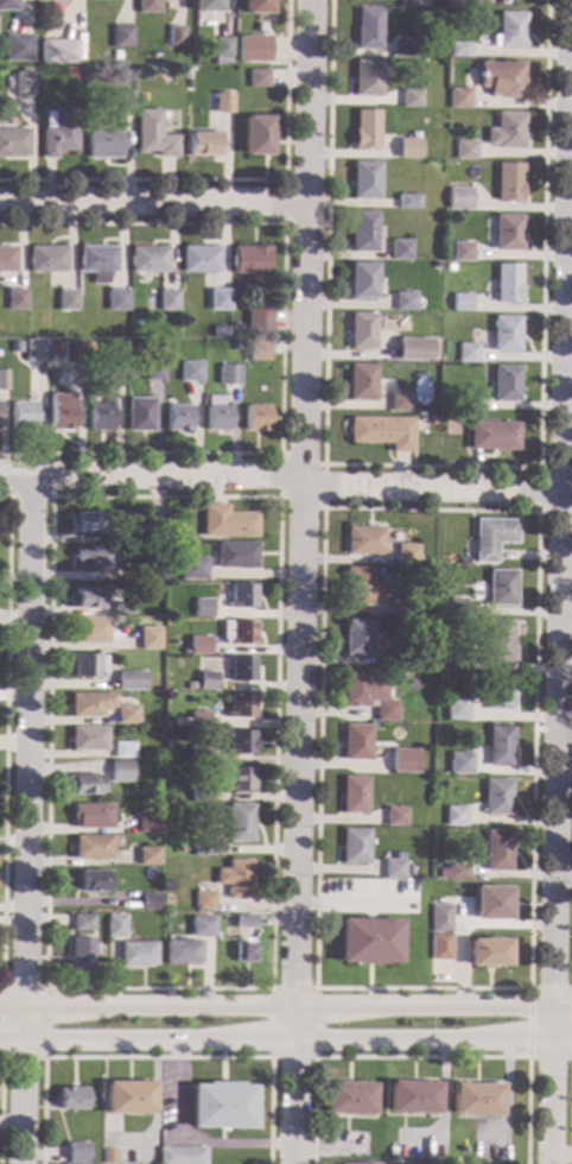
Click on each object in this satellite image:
building: (33, 0)
building: (417, 2)
building: (7, 5)
building: (146, 6)
building: (206, 6)
building: (256, 6)
building: (367, 29)
building: (509, 31)
building: (122, 37)
building: (176, 37)
building: (18, 48)
building: (222, 48)
building: (254, 48)
building: (402, 48)
building: (459, 50)
building: (61, 51)
building: (116, 56)
building: (91, 70)
building: (258, 78)
building: (367, 78)
building: (501, 80)
building: (23, 84)
building: (141, 97)
building: (411, 99)
building: (458, 99)
building: (126, 101)
building: (223, 103)
building: (98, 126)
building: (366, 129)
building: (59, 132)
building: (507, 132)
building: (154, 135)
building: (256, 135)
building: (13, 143)
building: (104, 145)
building: (203, 145)
building: (408, 148)
building: (464, 150)
building: (366, 179)
road: (231, 181)
building: (508, 183)
building: (459, 198)
road: (153, 202)
building: (407, 202)
road: (284, 223)
building: (364, 232)
building: (508, 233)
building: (399, 249)
building: (462, 252)
building: (7, 259)
building: (46, 259)
building: (148, 259)
building: (199, 259)
building: (249, 260)
building: (97, 262)
building: (450, 267)
building: (363, 280)
building: (507, 283)
building: (220, 291)
building: (17, 299)
building: (116, 299)
building: (68, 301)
building: (169, 301)
building: (403, 302)
building: (460, 303)
building: (259, 318)
building: (218, 330)
building: (236, 330)
building: (362, 331)
building: (506, 334)
road: (281, 336)
building: (235, 346)
building: (15, 347)
building: (52, 348)
building: (258, 349)
building: (413, 349)
building: (34, 350)
building: (74, 352)
building: (116, 353)
building: (466, 353)
building: (153, 371)
building: (190, 372)
building: (228, 374)
building: (2, 380)
building: (362, 382)
building: (504, 384)
building: (399, 403)
building: (466, 404)
building: (61, 411)
building: (216, 413)
building: (139, 415)
building: (23, 416)
building: (101, 417)
building: (178, 418)
building: (256, 418)
building: (432, 418)
building: (382, 432)
building: (492, 436)
road: (323, 464)
road: (432, 466)
road: (538, 473)
road: (281, 476)
road: (8, 496)
road: (278, 496)
road: (322, 511)
building: (87, 523)
building: (228, 523)
building: (154, 534)
building: (490, 538)
building: (109, 539)
building: (363, 540)
building: (235, 555)
building: (407, 555)
building: (93, 558)
building: (192, 568)
building: (152, 571)
road: (300, 581)
road: (560, 581)
building: (362, 587)
building: (502, 588)
building: (242, 596)
building: (85, 599)
building: (443, 602)
building: (398, 605)
building: (123, 607)
building: (202, 608)
building: (456, 608)
building: (90, 631)
building: (240, 633)
building: (148, 638)
building: (357, 638)
building: (501, 643)
building: (198, 646)
building: (400, 659)
building: (460, 660)
building: (89, 665)
building: (241, 669)
building: (129, 681)
building: (206, 682)
building: (500, 692)
building: (368, 695)
building: (89, 704)
building: (241, 706)
building: (457, 707)
building: (166, 709)
building: (466, 711)
building: (126, 714)
building: (199, 720)
building: (167, 726)
road: (553, 726)
building: (88, 739)
road: (5, 740)
building: (240, 742)
building: (356, 742)
road: (565, 745)
building: (501, 746)
building: (123, 749)
building: (201, 755)
building: (402, 759)
building: (462, 763)
building: (388, 764)
building: (120, 771)
building: (240, 778)
building: (84, 785)
building: (201, 792)
building: (354, 795)
building: (498, 797)
building: (91, 816)
building: (395, 816)
building: (456, 816)
road: (25, 821)
building: (147, 822)
building: (240, 822)
building: (355, 847)
building: (91, 848)
building: (203, 849)
building: (498, 852)
building: (148, 856)
building: (399, 858)
building: (393, 869)
building: (458, 872)
road: (565, 878)
building: (236, 879)
building: (93, 881)
building: (412, 885)
building: (204, 900)
building: (148, 902)
road: (354, 904)
building: (492, 904)
building: (440, 918)
building: (244, 922)
building: (82, 923)
building: (115, 926)
building: (201, 928)
building: (369, 942)
building: (440, 947)
building: (182, 953)
building: (244, 953)
building: (489, 953)
building: (81, 954)
building: (136, 954)
road: (551, 988)
road: (1, 989)
road: (286, 1006)
road: (529, 1023)
road: (286, 1042)
road: (157, 1057)
road: (271, 1057)
road: (421, 1057)
road: (549, 1057)
road: (103, 1090)
building: (128, 1097)
building: (413, 1097)
building: (71, 1099)
building: (349, 1099)
building: (476, 1100)
building: (222, 1106)
road: (154, 1124)
road: (571, 1135)
road: (185, 1143)
building: (76, 1152)
building: (109, 1156)
building: (182, 1156)
road: (563, 1157)
building: (357, 1163)

